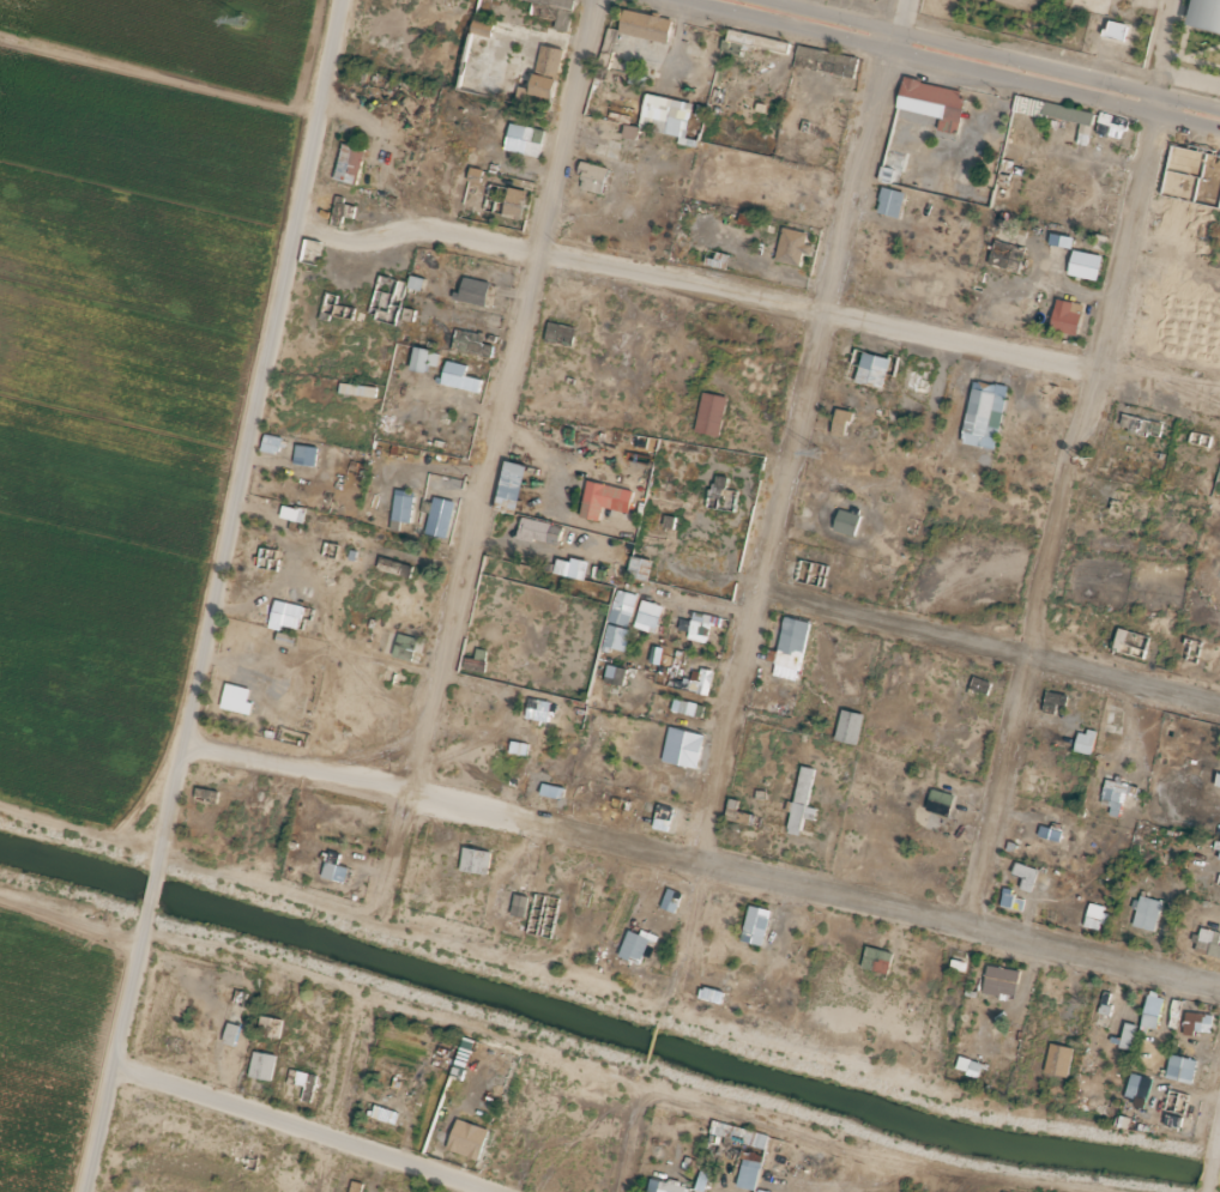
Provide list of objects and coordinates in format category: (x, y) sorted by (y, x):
road: (988, 56)
road: (935, 69)
road: (478, 462)
road: (1063, 466)
road: (768, 506)
road: (983, 656)
road: (695, 875)
road: (1213, 1129)

